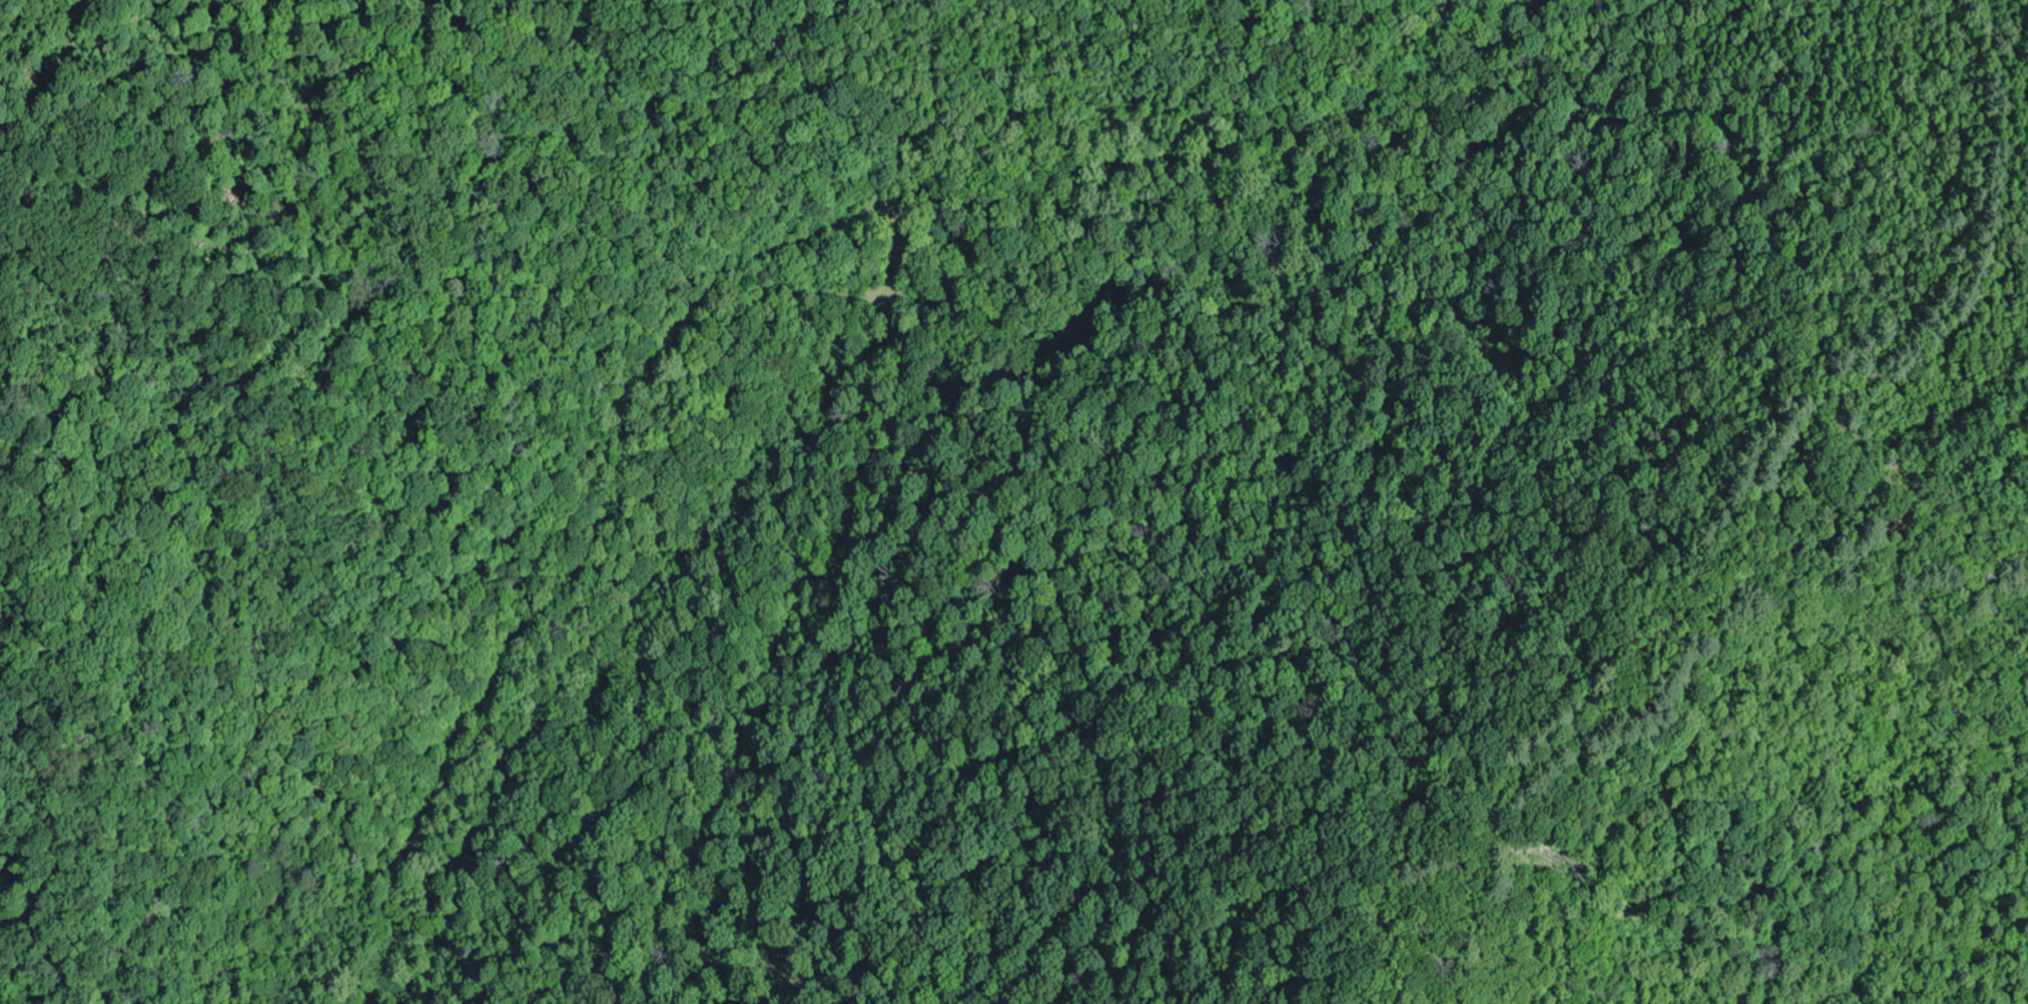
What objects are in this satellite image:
road: (385, 957)

